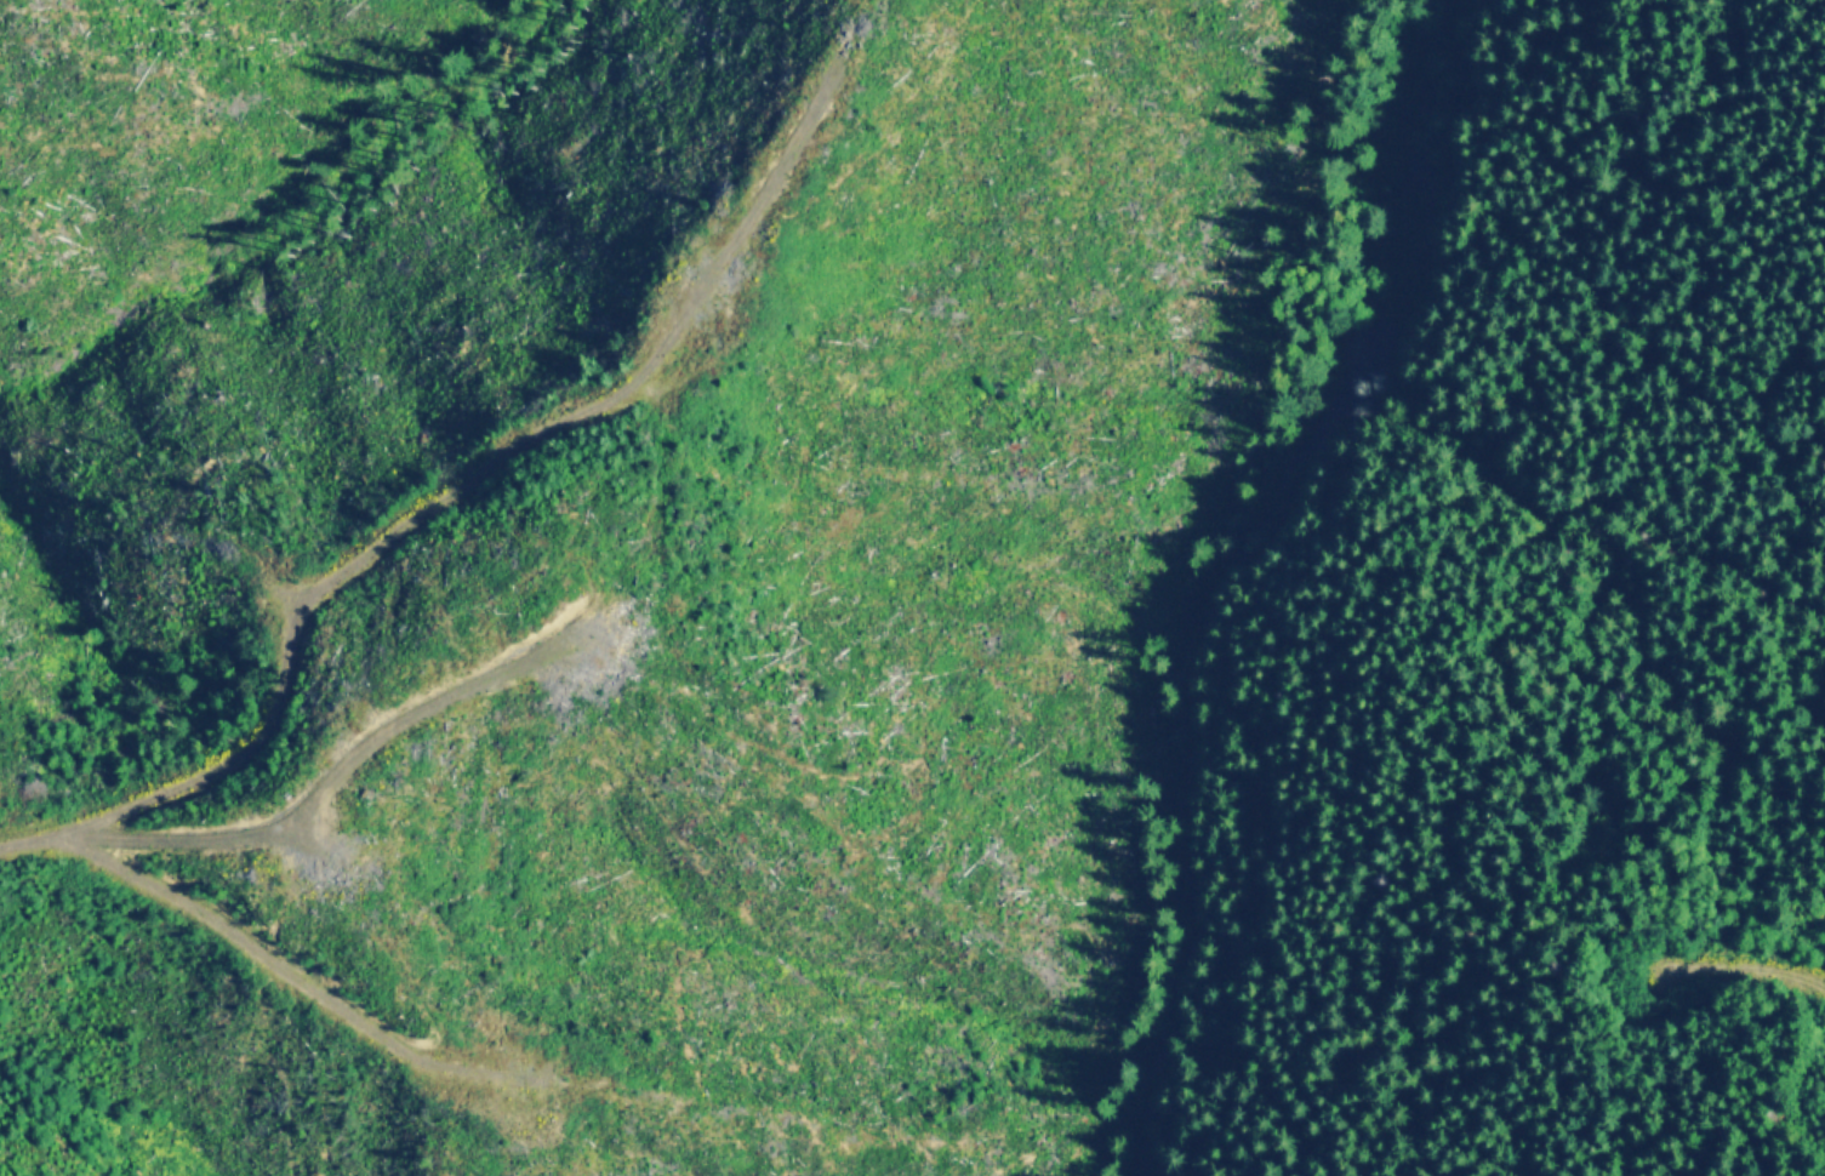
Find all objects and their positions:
road: (124, 844)

